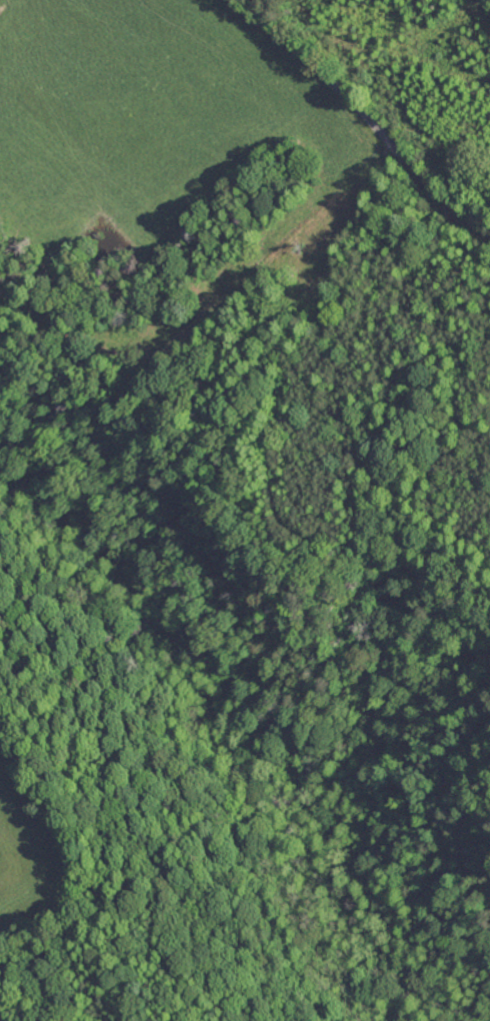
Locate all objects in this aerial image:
road: (363, 115)

